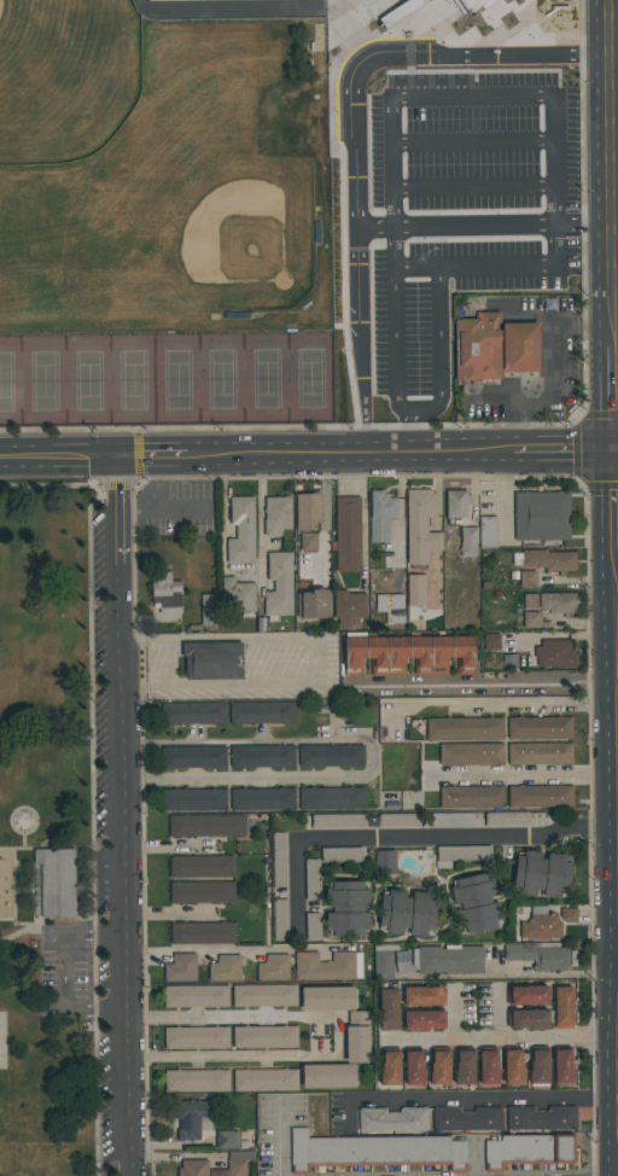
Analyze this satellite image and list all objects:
building: (470, 5)
road: (256, 10)
road: (536, 10)
road: (390, 12)
road: (377, 24)
road: (507, 52)
road: (614, 65)
road: (518, 99)
road: (357, 147)
road: (614, 161)
road: (612, 174)
road: (503, 187)
road: (455, 188)
road: (584, 223)
road: (616, 223)
road: (456, 225)
parking lot: (444, 227)
road: (407, 256)
road: (483, 276)
road: (616, 315)
road: (357, 319)
road: (585, 325)
road: (450, 344)
building: (496, 347)
park: (167, 378)
road: (543, 396)
road: (614, 400)
road: (404, 413)
road: (408, 432)
road: (360, 433)
road: (565, 452)
road: (617, 452)
road: (436, 453)
road: (273, 458)
road: (62, 462)
road: (156, 462)
road: (46, 487)
building: (457, 503)
road: (616, 503)
building: (307, 511)
building: (276, 516)
building: (380, 516)
building: (542, 516)
road: (326, 518)
road: (365, 519)
road: (260, 524)
building: (420, 526)
building: (241, 530)
building: (488, 532)
building: (349, 534)
building: (468, 541)
building: (546, 559)
building: (527, 578)
building: (279, 584)
building: (415, 590)
building: (167, 593)
building: (238, 598)
building: (530, 601)
building: (558, 602)
building: (315, 605)
building: (349, 606)
building: (209, 610)
building: (531, 619)
building: (491, 641)
building: (555, 653)
building: (407, 654)
building: (212, 659)
road: (317, 659)
road: (489, 689)
building: (262, 712)
building: (193, 714)
road: (93, 715)
building: (540, 728)
building: (465, 729)
road: (617, 749)
building: (540, 753)
building: (471, 755)
building: (262, 756)
building: (331, 756)
road: (374, 756)
building: (193, 757)
road: (524, 775)
building: (472, 797)
building: (540, 797)
building: (331, 798)
building: (193, 799)
building: (262, 799)
road: (31, 809)
park: (65, 816)
road: (128, 819)
building: (506, 819)
building: (451, 820)
building: (339, 821)
building: (398, 821)
building: (208, 826)
road: (409, 839)
building: (461, 854)
building: (342, 855)
building: (279, 858)
building: (385, 862)
building: (202, 867)
building: (542, 874)
building: (313, 880)
building: (54, 883)
road: (34, 887)
road: (75, 890)
road: (16, 891)
building: (202, 892)
building: (476, 903)
building: (348, 908)
building: (407, 913)
building: (569, 915)
road: (23, 924)
building: (541, 925)
building: (313, 927)
road: (18, 933)
building: (203, 933)
road: (244, 950)
building: (538, 955)
building: (448, 960)
building: (384, 961)
building: (327, 966)
building: (274, 967)
building: (180, 968)
building: (225, 968)
road: (64, 971)
building: (527, 995)
building: (196, 996)
building: (264, 996)
building: (425, 996)
building: (328, 999)
building: (389, 1008)
building: (564, 1008)
road: (231, 1017)
building: (424, 1019)
building: (527, 1019)
road: (97, 1032)
building: (197, 1037)
building: (264, 1037)
road: (344, 1037)
building: (357, 1037)
road: (501, 1040)
park: (2, 1042)
road: (232, 1055)
building: (540, 1065)
building: (562, 1065)
building: (390, 1066)
building: (414, 1066)
building: (439, 1066)
building: (465, 1066)
building: (488, 1066)
building: (513, 1066)
building: (328, 1076)
building: (197, 1081)
building: (266, 1081)
road: (485, 1096)
building: (193, 1118)
building: (541, 1118)
building: (466, 1119)
building: (392, 1120)
road: (280, 1136)
building: (227, 1140)
building: (529, 1149)
building: (374, 1152)
building: (238, 1163)
building: (193, 1168)

